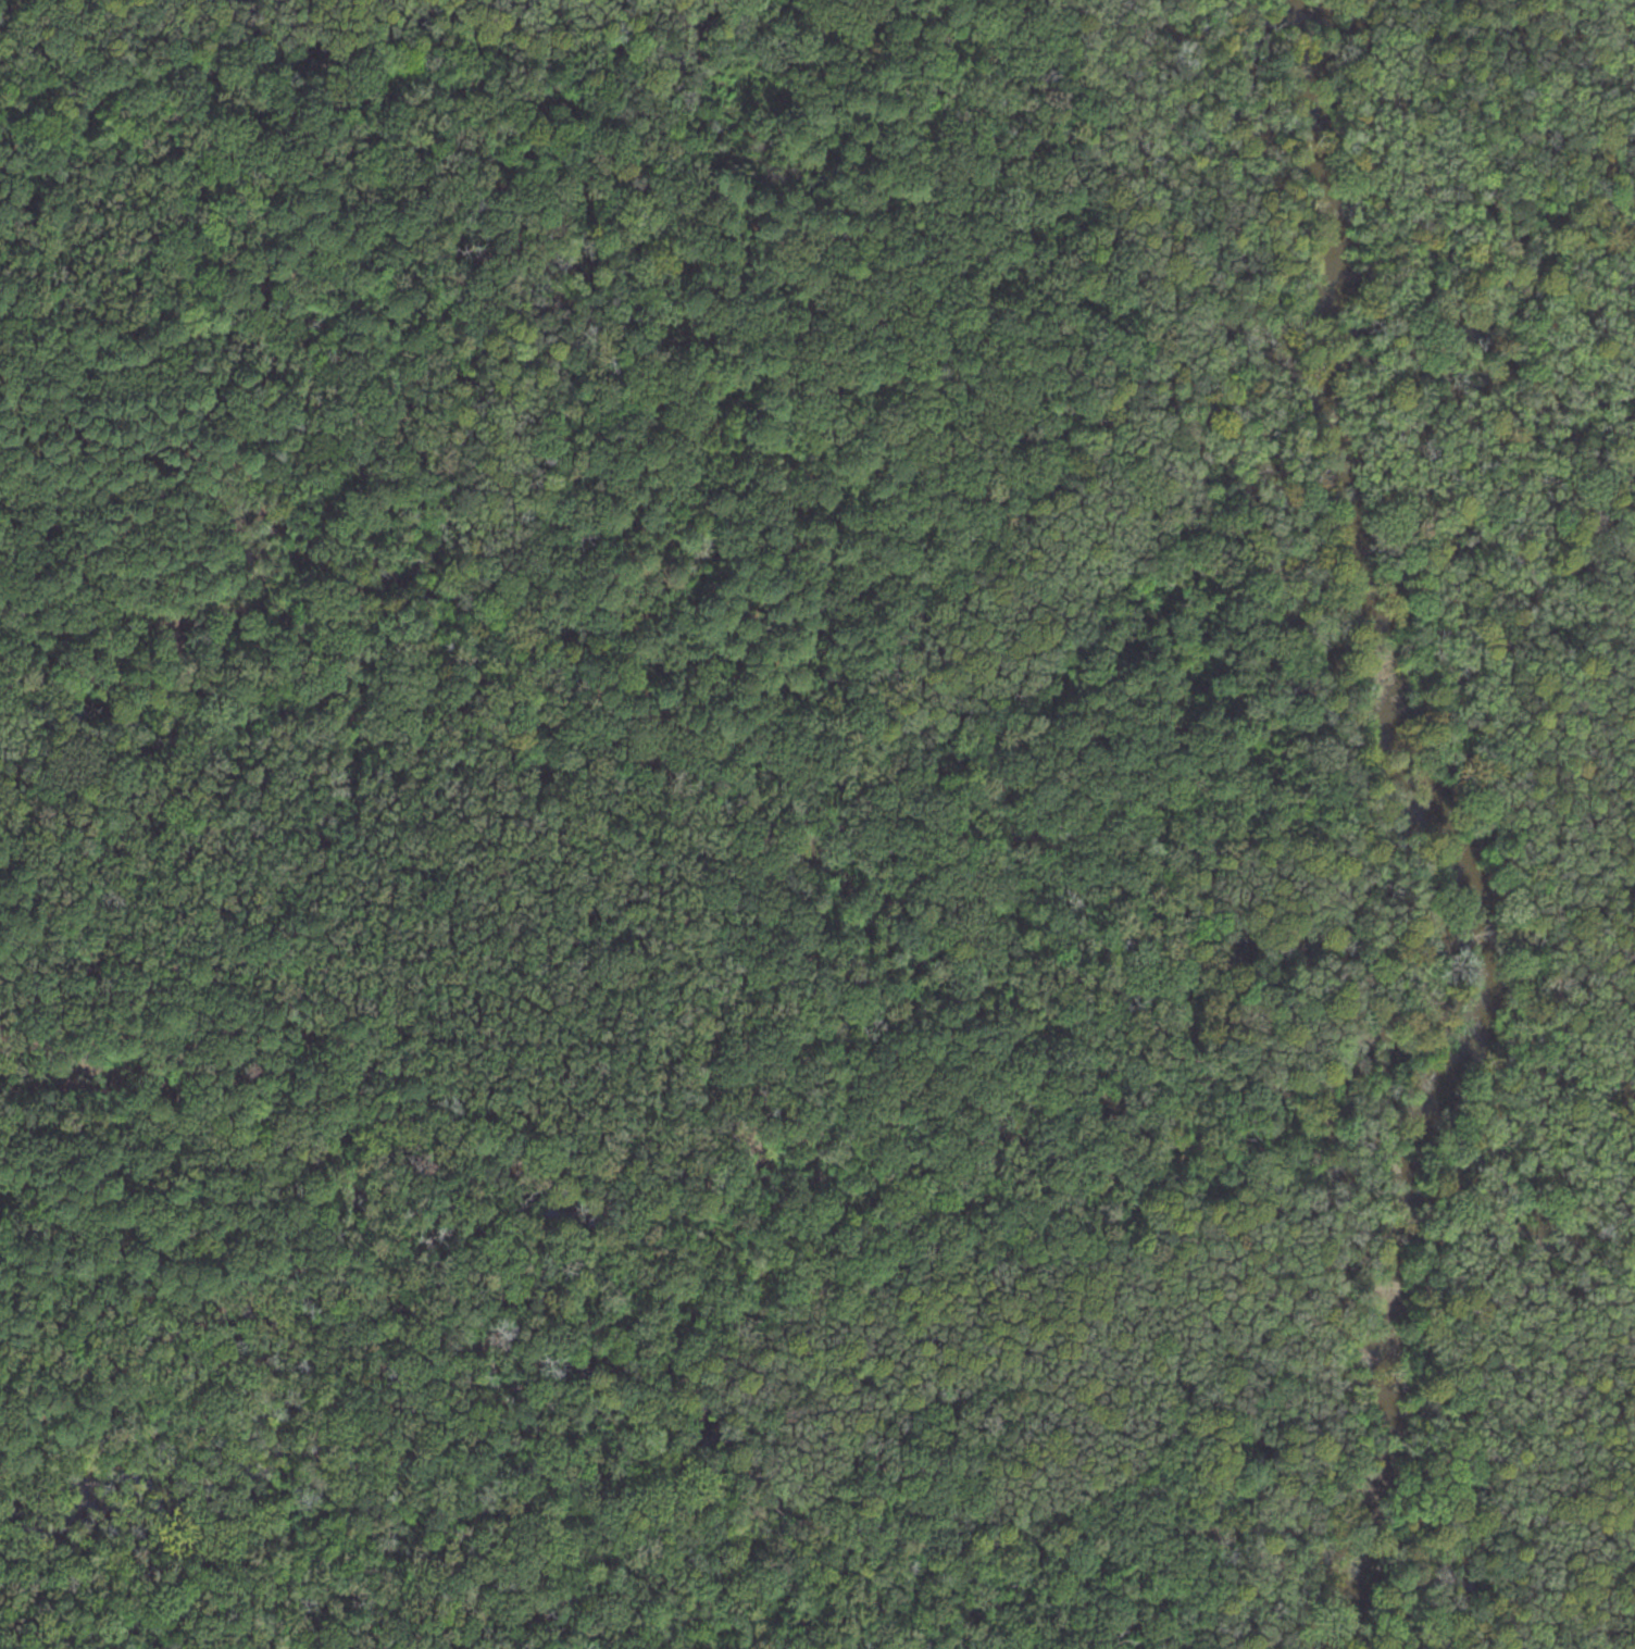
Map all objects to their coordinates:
building: (479, 1251)
building: (40, 1274)

